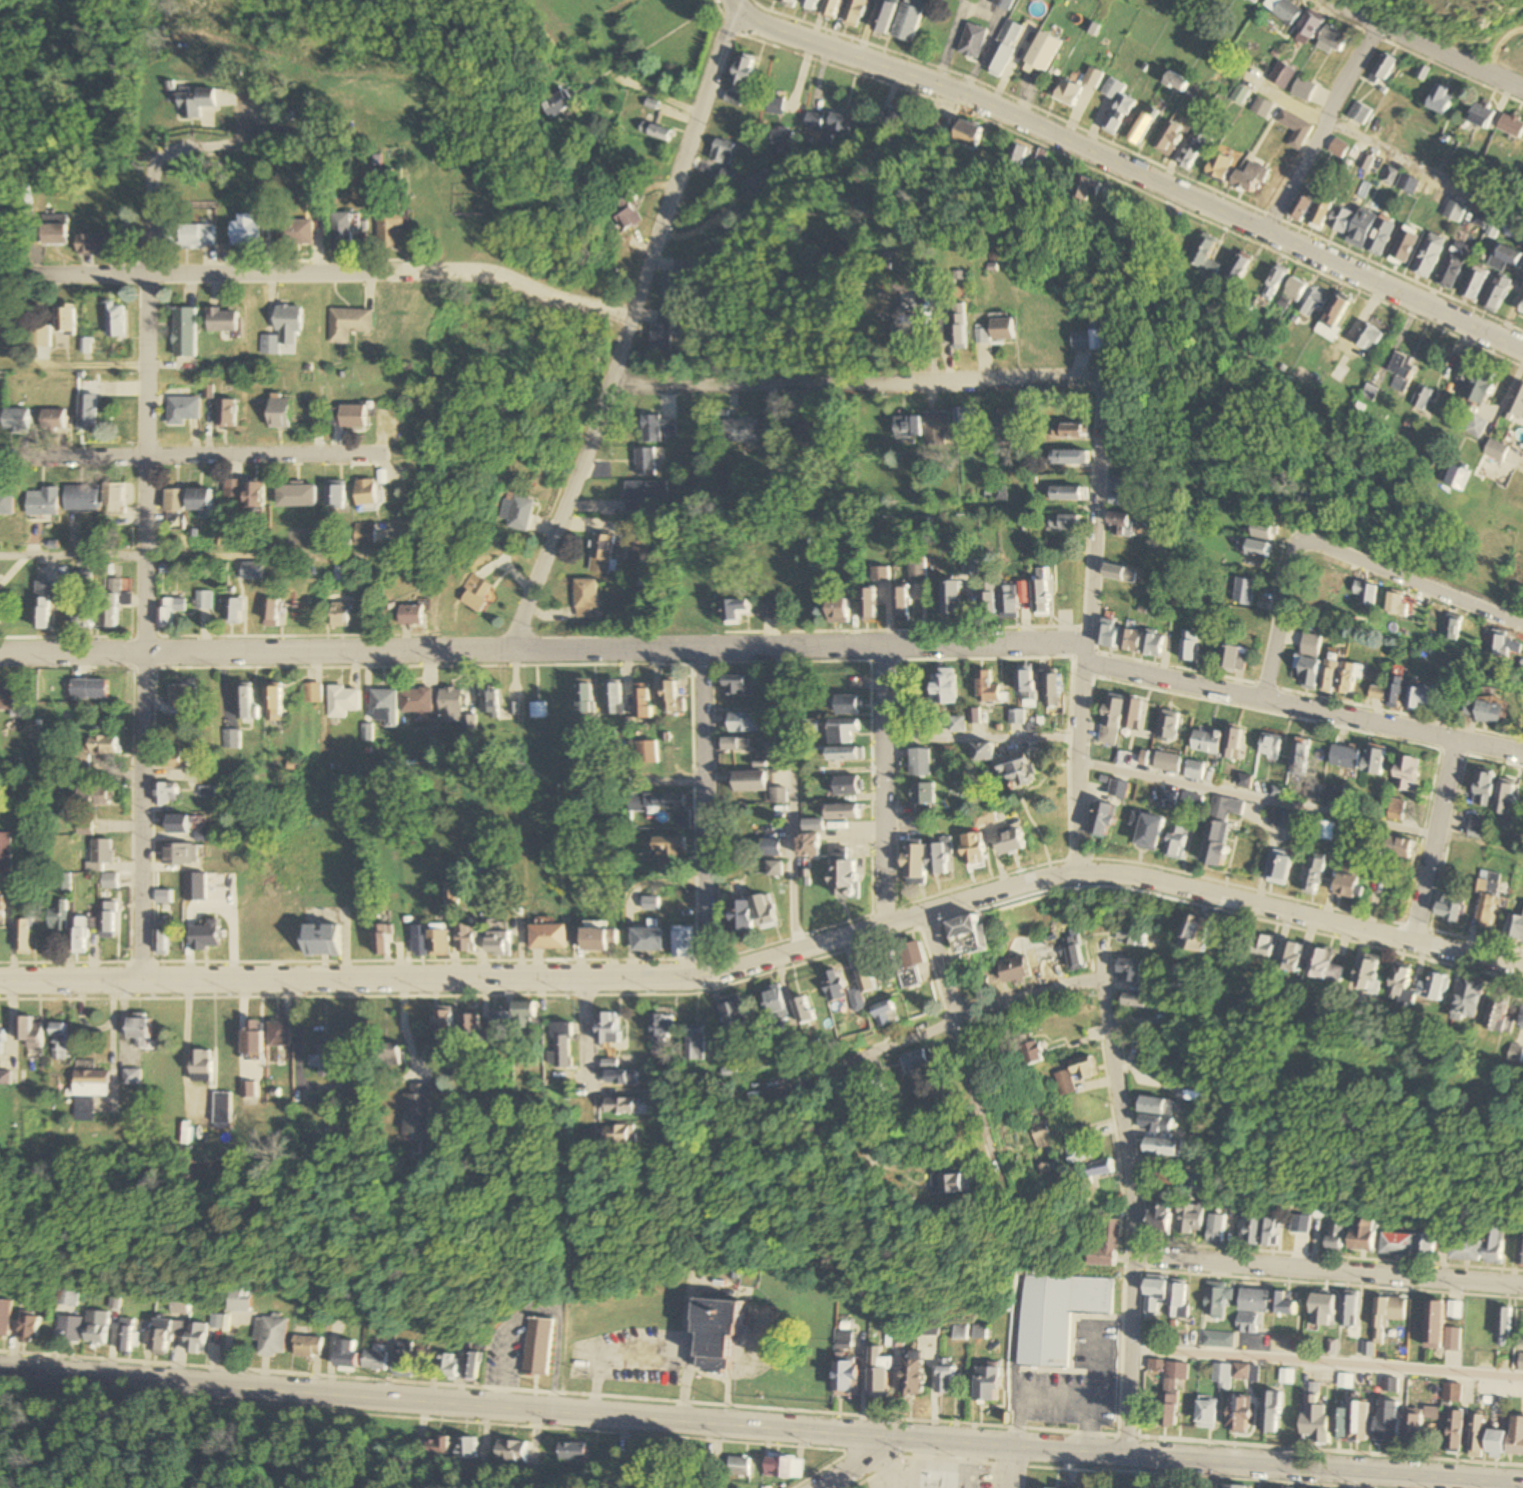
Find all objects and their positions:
road: (1422, 46)
road: (1510, 61)
road: (1321, 131)
road: (191, 149)
road: (1395, 162)
road: (1125, 168)
road: (318, 272)
road: (625, 332)
road: (849, 383)
road: (191, 456)
road: (1518, 461)
road: (190, 555)
road: (144, 565)
road: (1412, 580)
road: (1279, 618)
road: (1084, 625)
road: (542, 649)
road: (1303, 706)
road: (980, 740)
road: (882, 785)
road: (1256, 799)
road: (704, 812)
road: (1435, 840)
road: (771, 957)
road: (940, 1029)
road: (585, 1034)
road: (962, 1052)
road: (1129, 1198)
road: (1330, 1270)
building: (1058, 1323)
road: (1327, 1366)
road: (761, 1432)
road: (875, 1466)
road: (1012, 1469)

